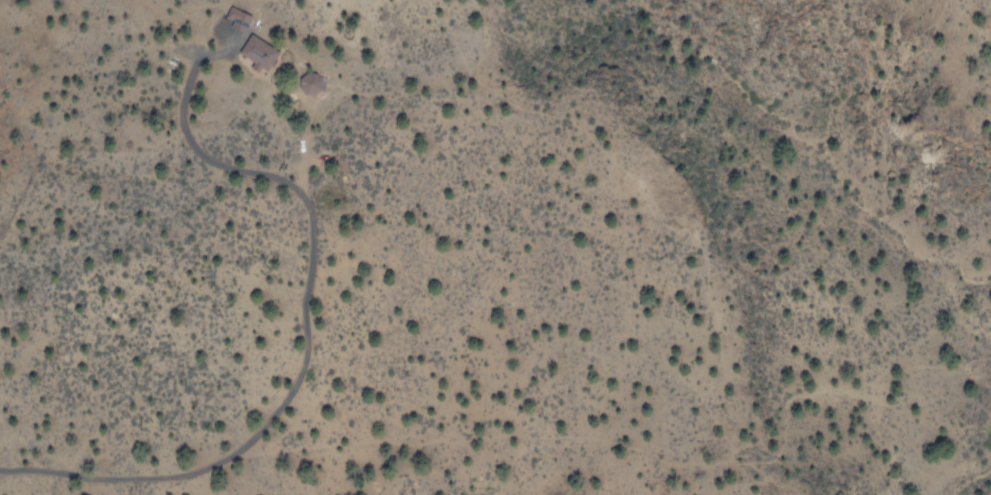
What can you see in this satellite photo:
building: (259, 52)
road: (304, 357)

